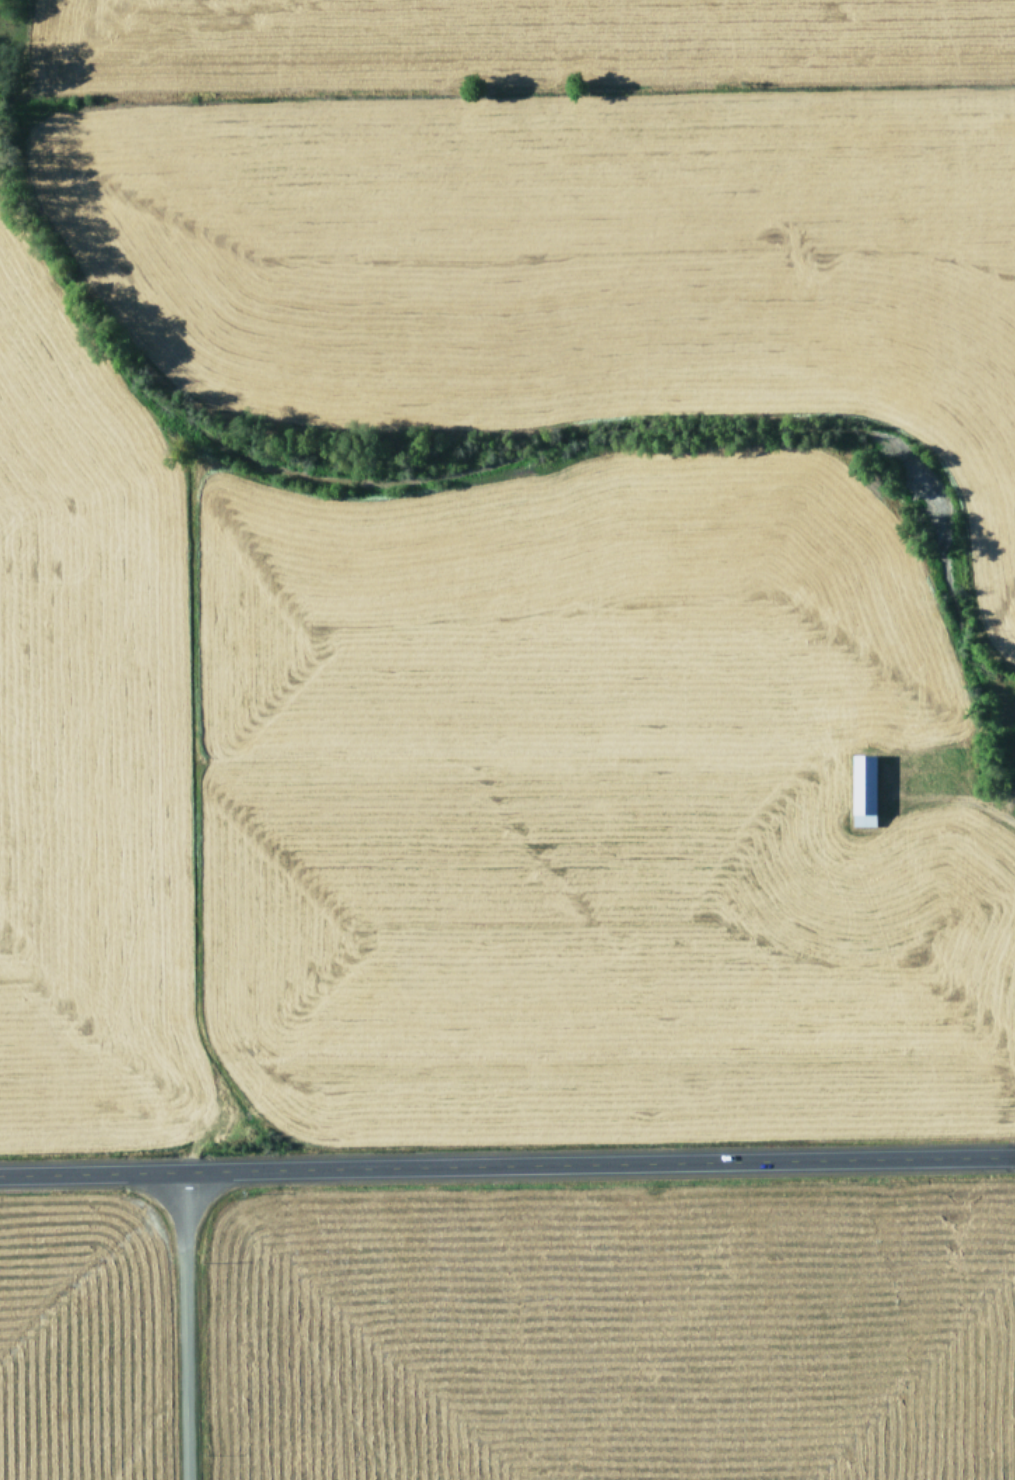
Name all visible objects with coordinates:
crop: (505, 559)
building: (860, 790)
road: (507, 1170)
road: (186, 1328)
crop: (614, 1343)
crop: (77, 1352)

